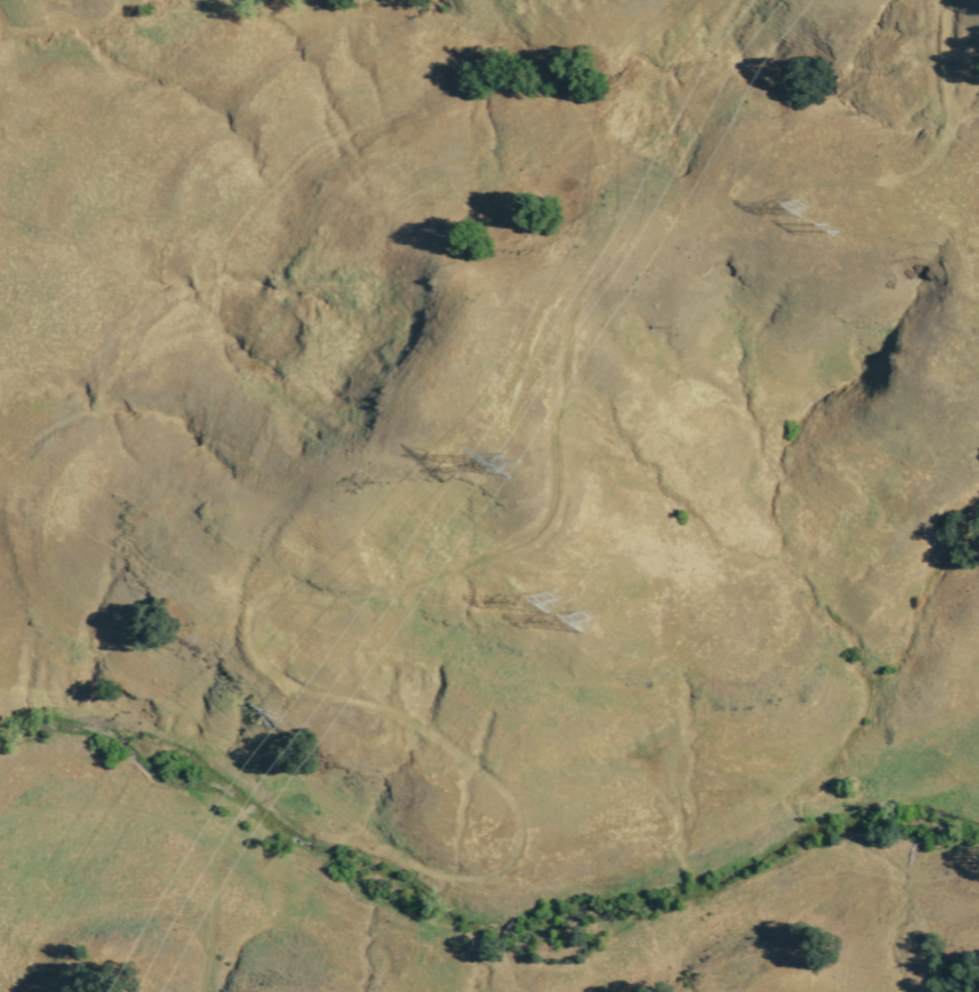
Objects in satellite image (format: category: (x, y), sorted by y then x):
power tower: (798, 209)
power tower: (835, 232)
power tower: (508, 467)
power tower: (552, 604)
power tower: (585, 623)

